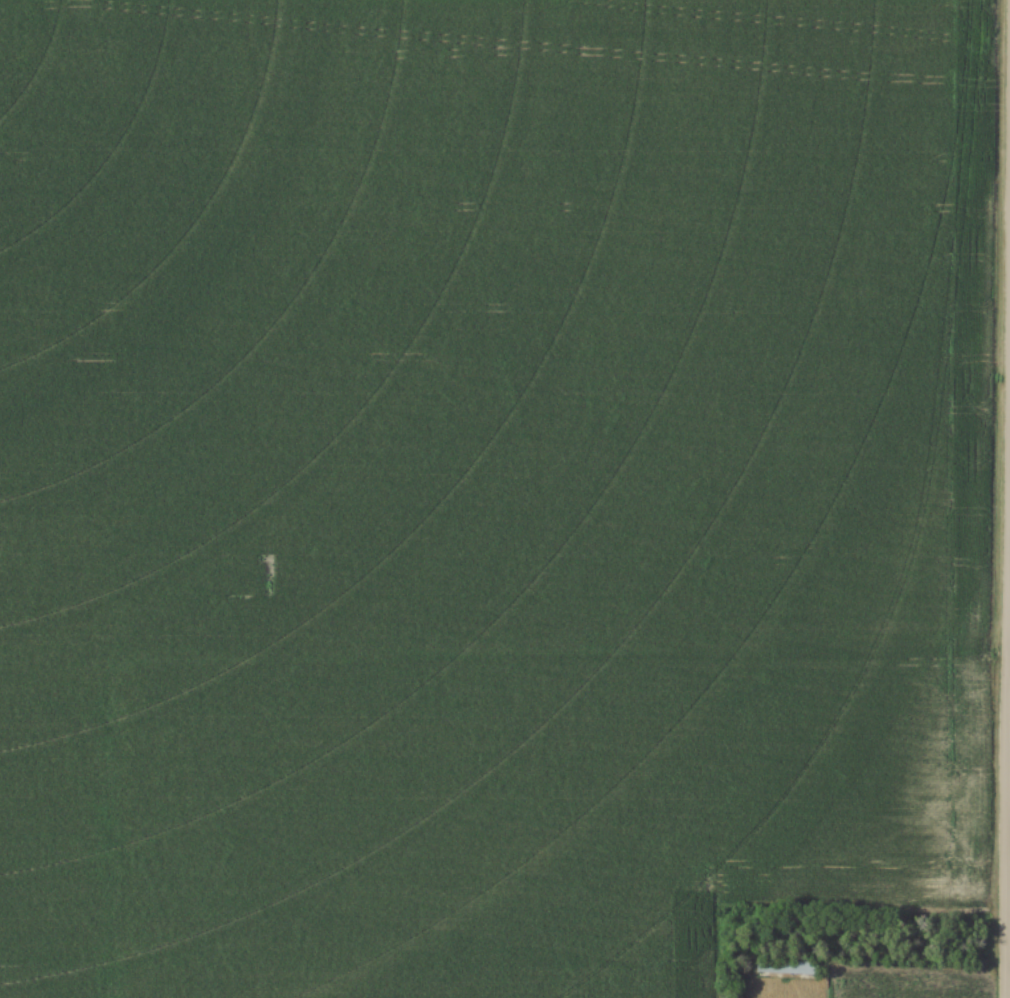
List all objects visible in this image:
road: (1004, 498)
building: (785, 967)

